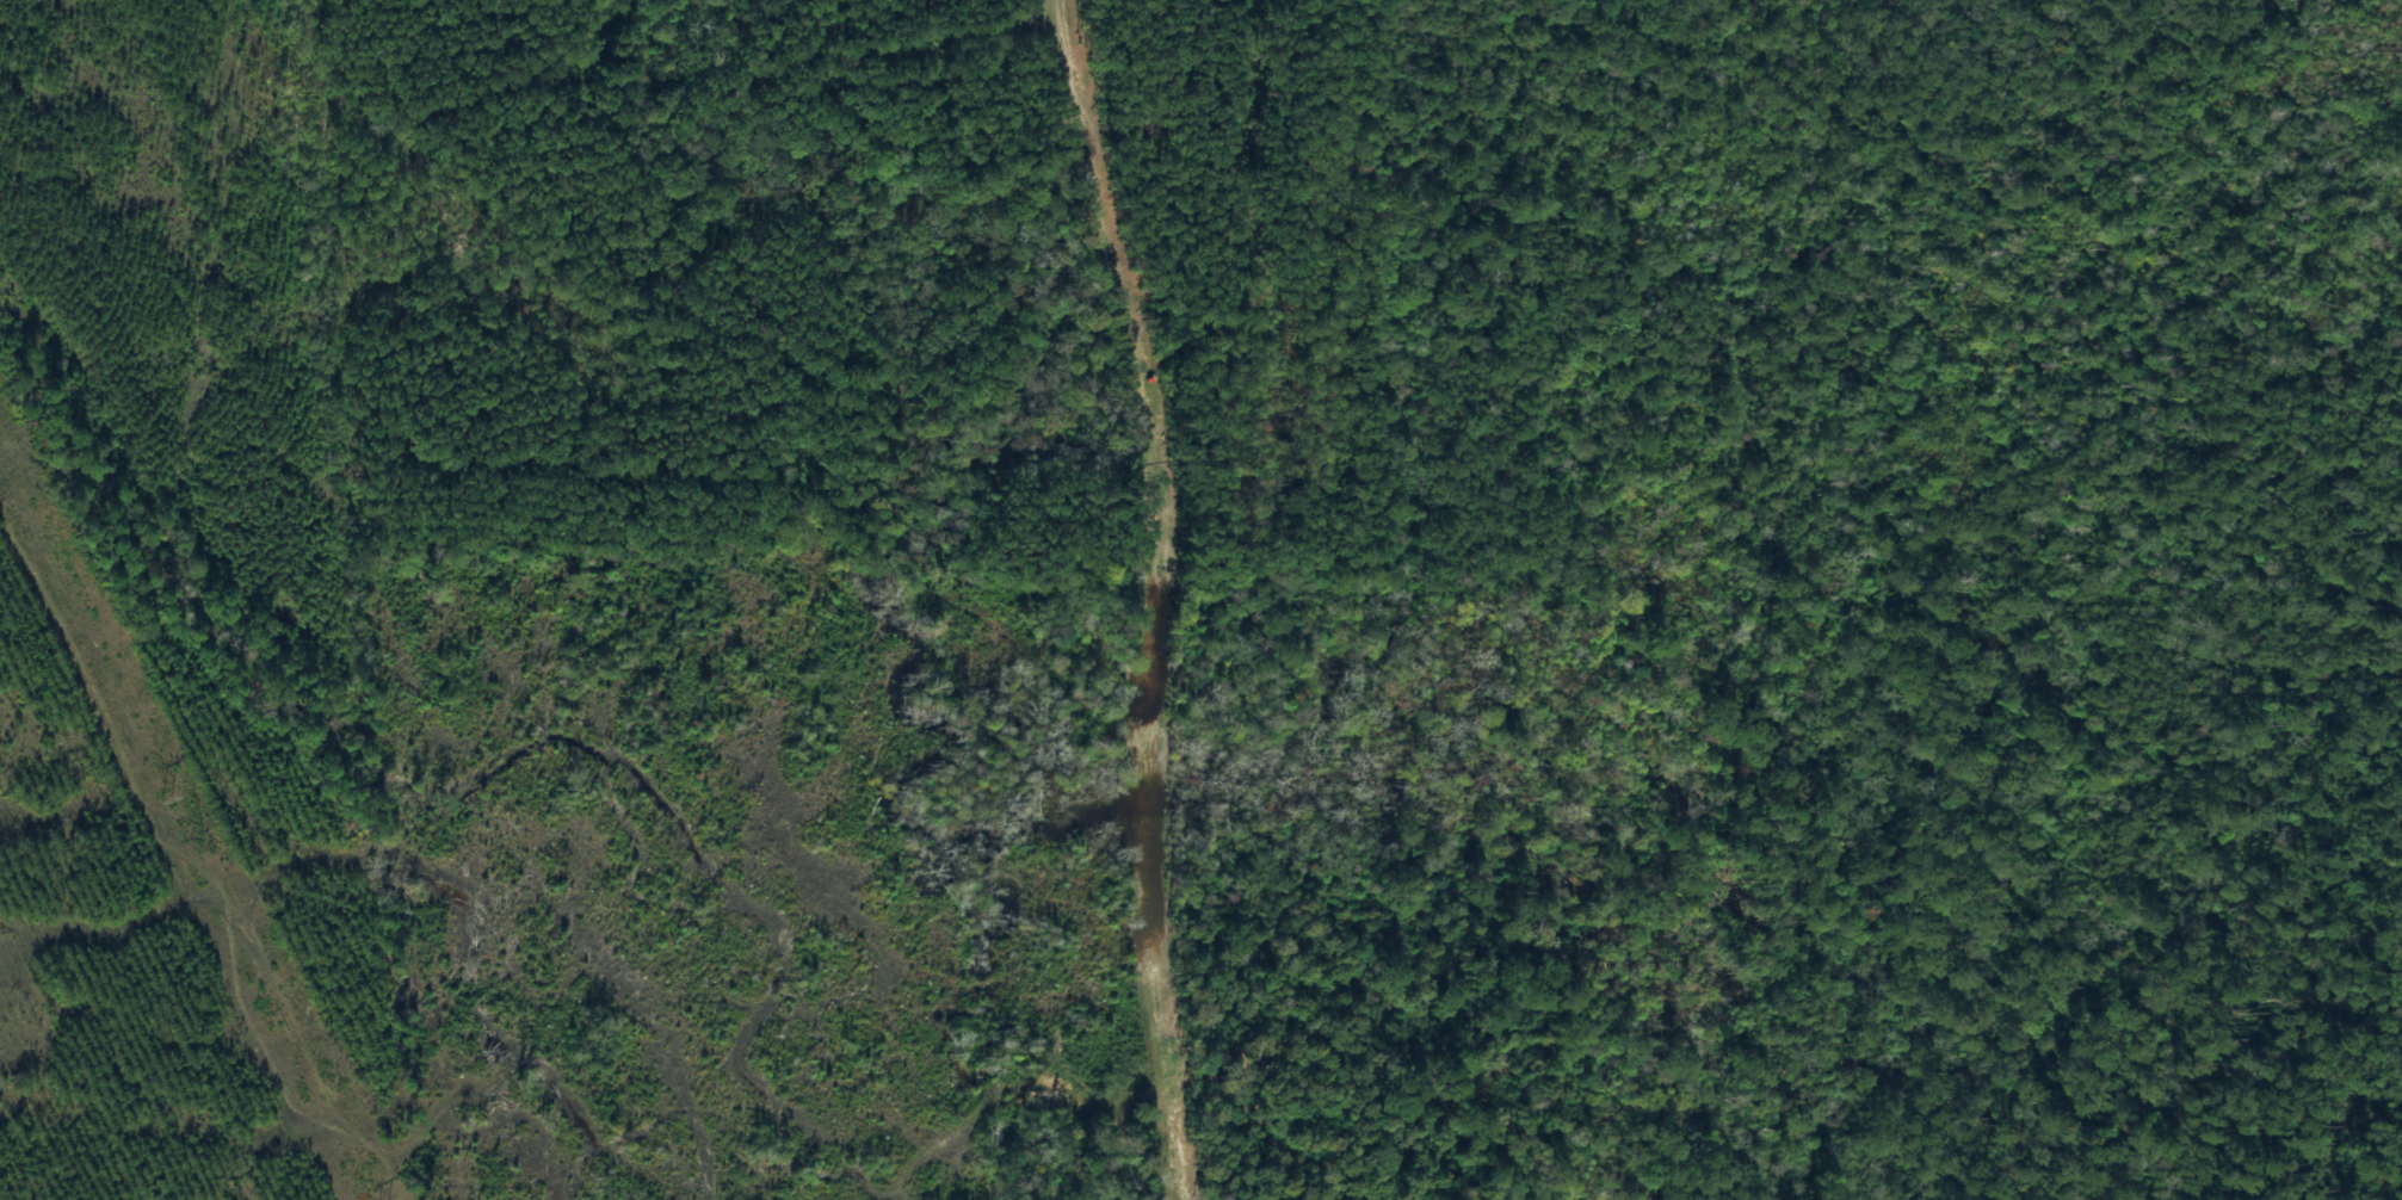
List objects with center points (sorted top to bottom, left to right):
power tower: (174, 800)

